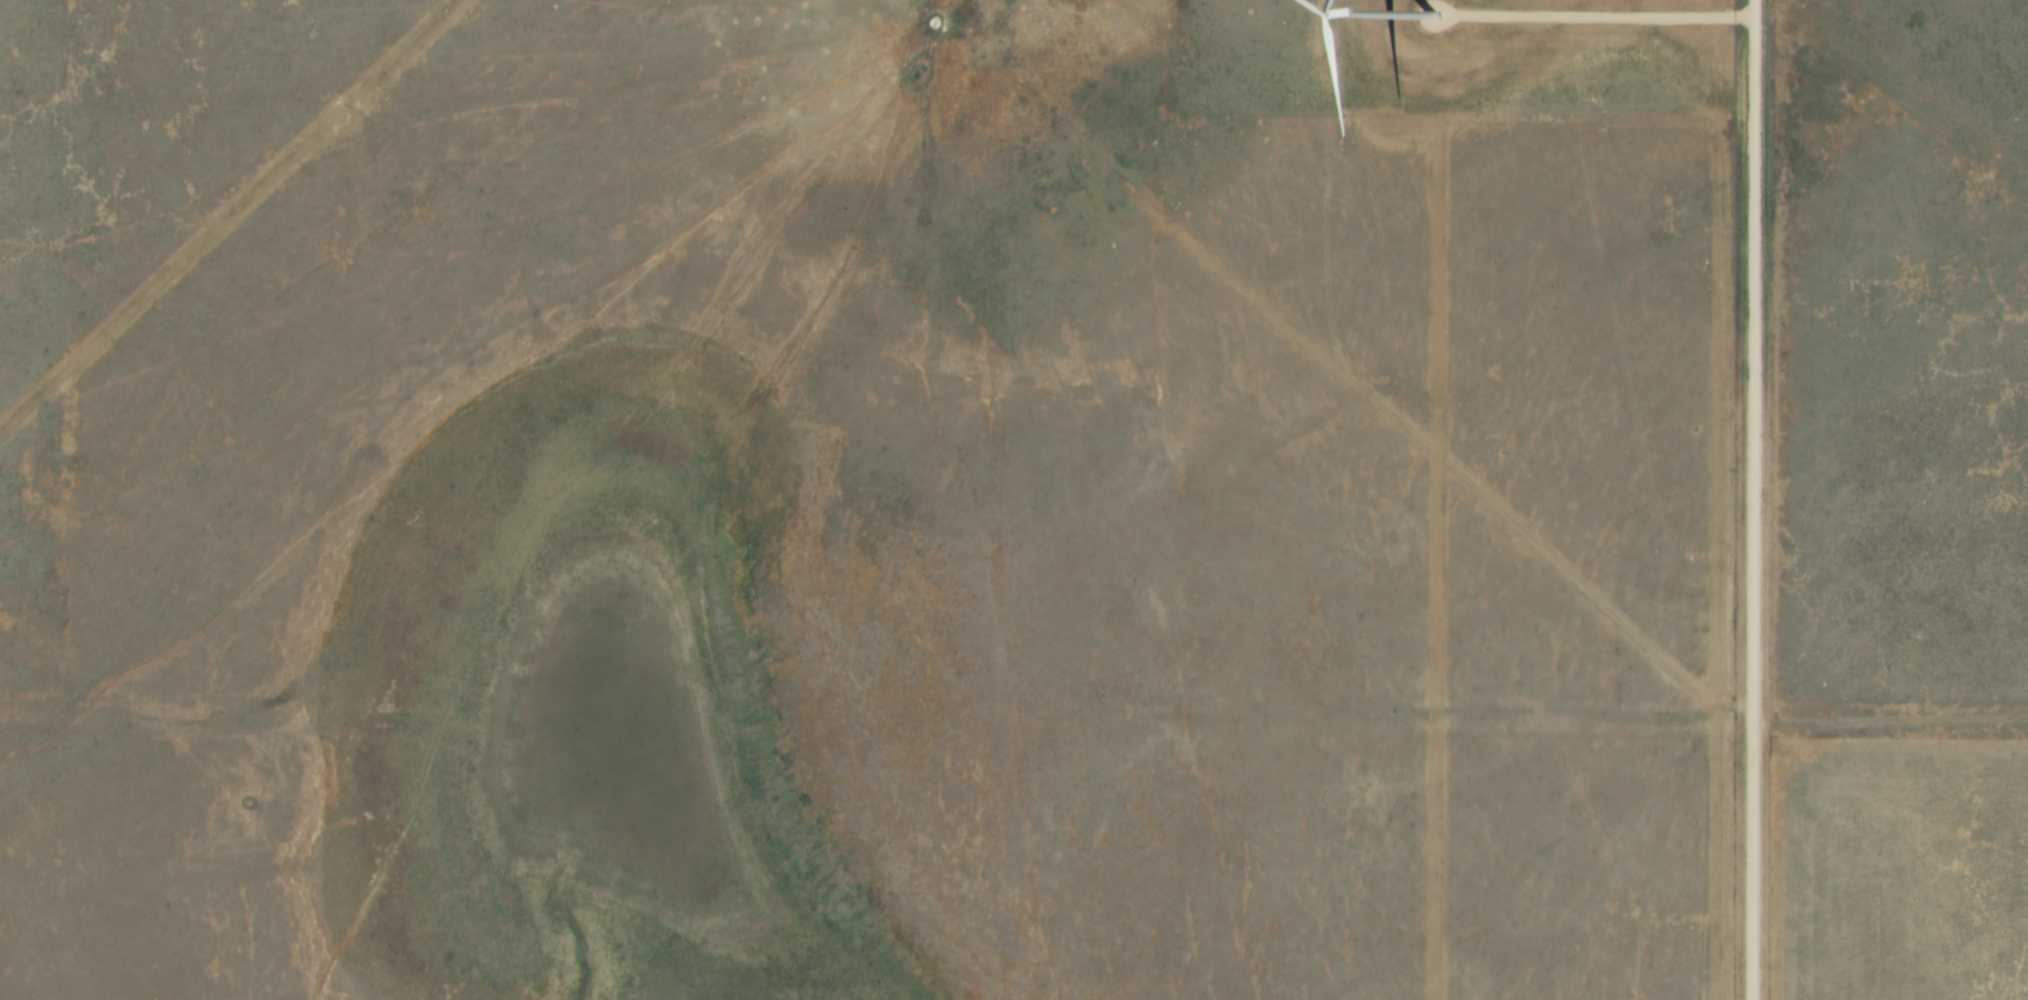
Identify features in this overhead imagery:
wind turbine: (1433, 14)
road: (1604, 19)
road: (1754, 500)

